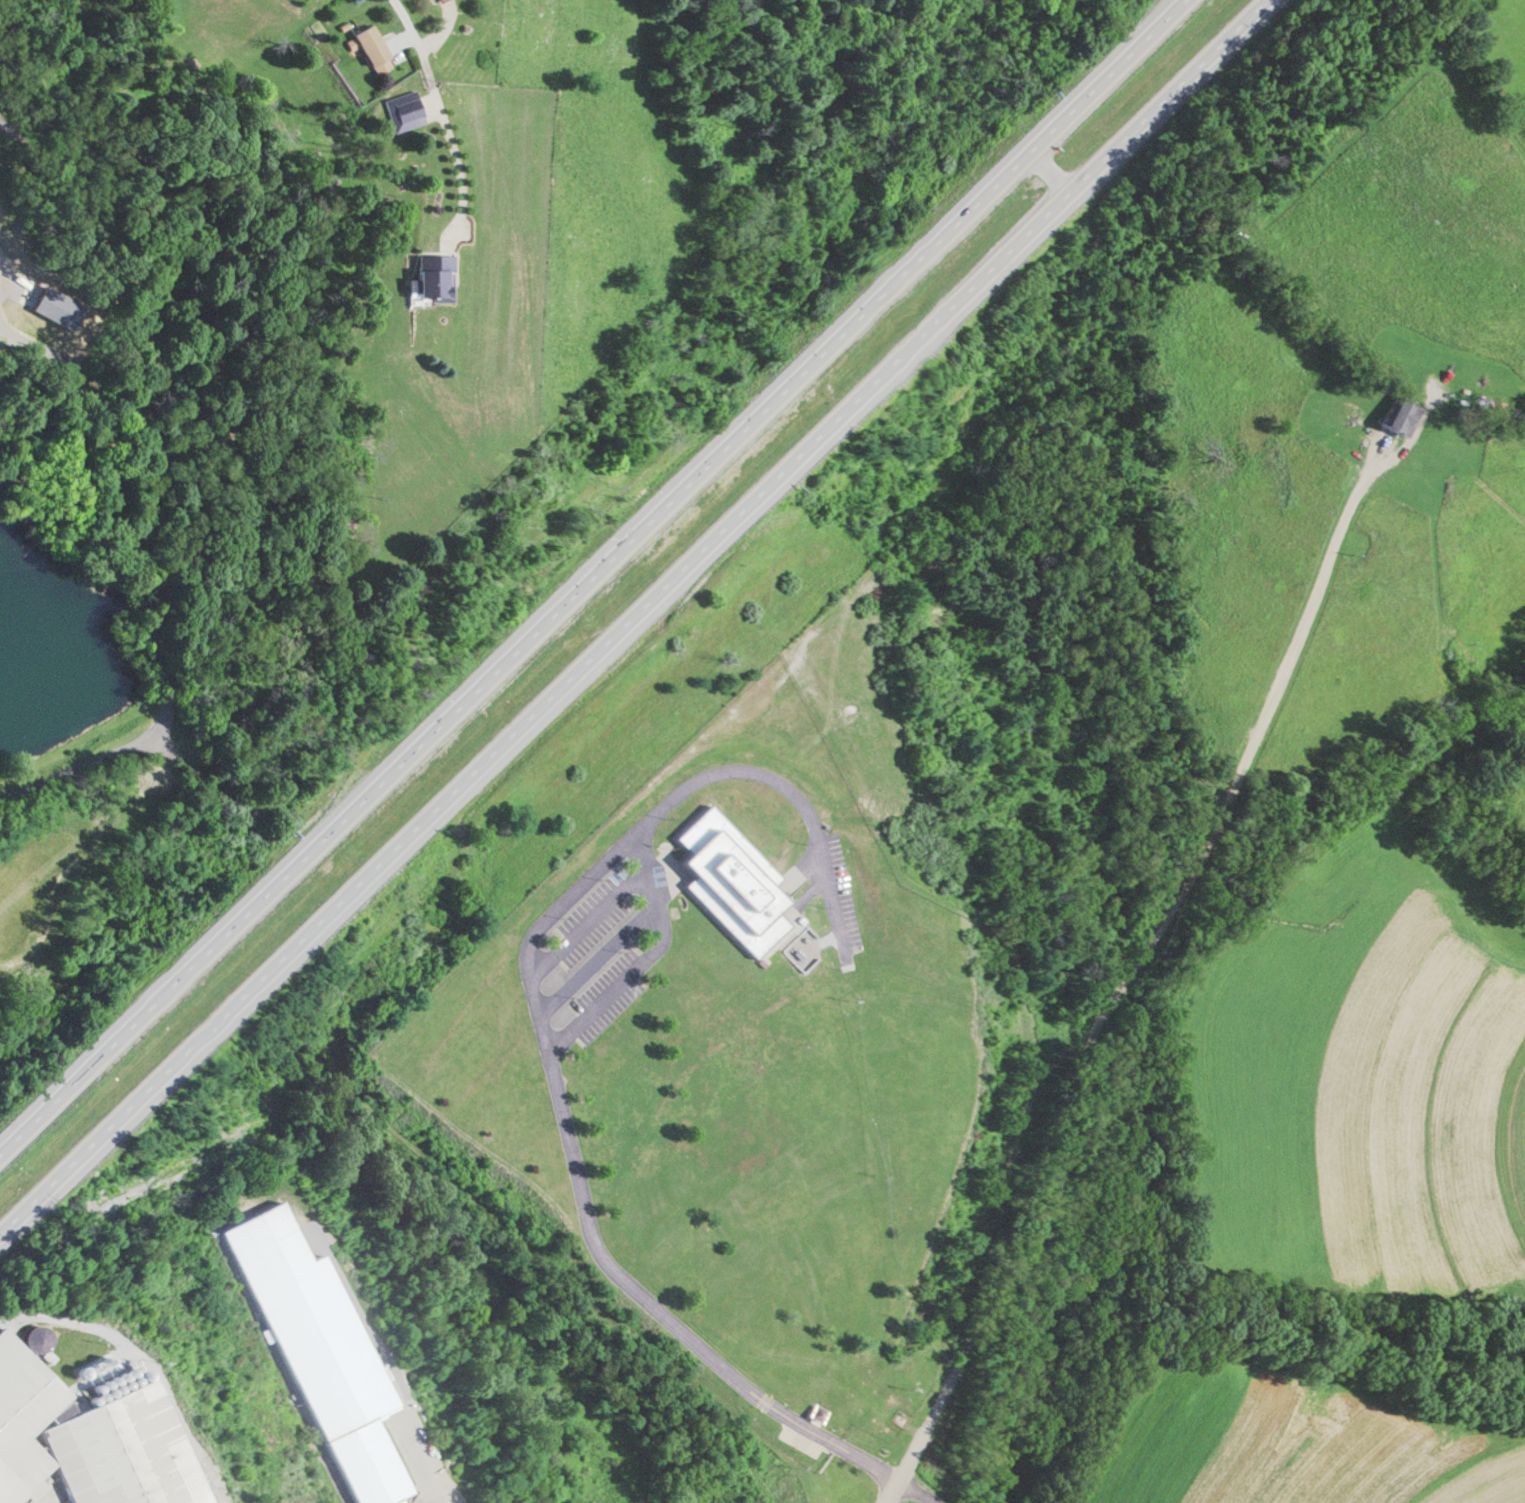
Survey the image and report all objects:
building: (433, 0)
building: (369, 44)
building: (403, 109)
road: (435, 110)
building: (434, 277)
building: (1399, 416)
road: (160, 574)
road: (593, 577)
road: (641, 622)
building: (729, 881)
road: (1123, 993)
road: (555, 1071)
building: (322, 1353)
building: (815, 1412)
building: (89, 1440)
road: (430, 1485)

